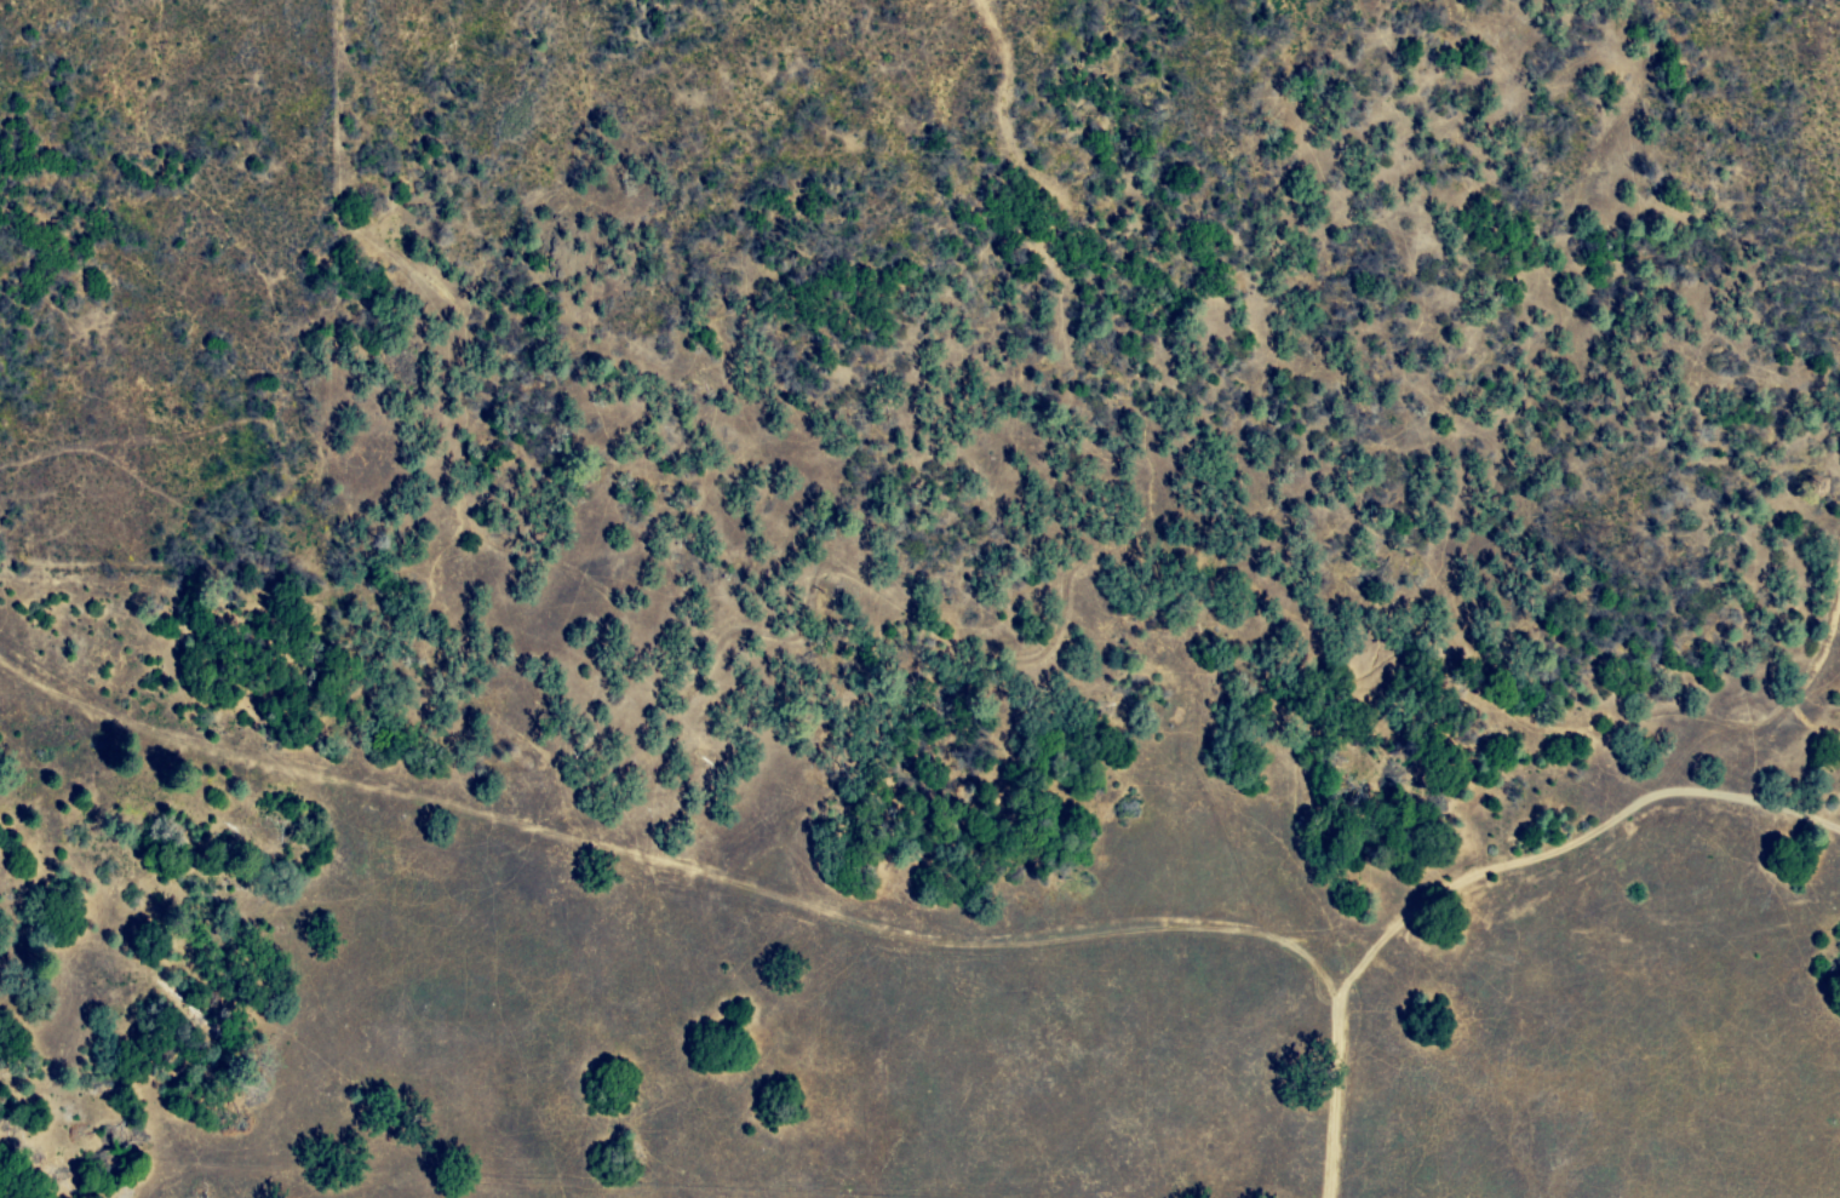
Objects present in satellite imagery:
road: (332, 386)
road: (1221, 574)
road: (1582, 847)

